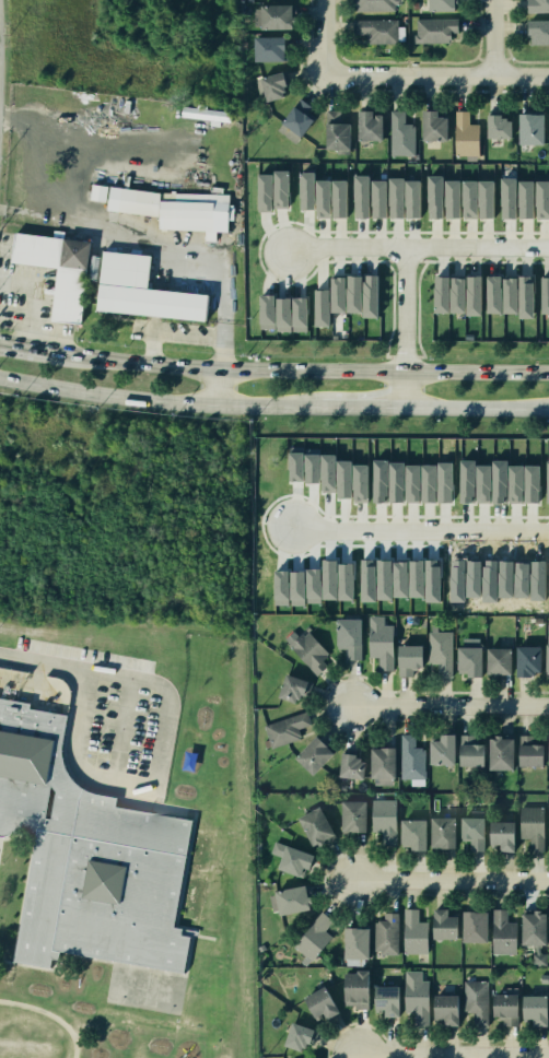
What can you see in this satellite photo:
building: (440, 3)
building: (373, 4)
building: (414, 4)
building: (535, 5)
building: (277, 14)
building: (435, 28)
building: (376, 30)
building: (536, 31)
road: (492, 37)
building: (242, 43)
building: (269, 48)
road: (521, 75)
road: (367, 78)
building: (271, 85)
building: (205, 115)
building: (295, 120)
building: (369, 126)
building: (432, 126)
building: (497, 126)
building: (529, 128)
building: (335, 131)
building: (465, 133)
building: (400, 134)
building: (279, 188)
building: (306, 190)
building: (264, 192)
building: (360, 196)
building: (395, 197)
building: (434, 197)
building: (322, 198)
building: (338, 198)
building: (377, 198)
building: (411, 198)
building: (507, 198)
building: (453, 199)
building: (478, 199)
building: (525, 199)
building: (542, 199)
building: (165, 209)
road: (37, 211)
road: (78, 218)
road: (417, 250)
building: (96, 280)
building: (441, 293)
building: (352, 294)
building: (456, 294)
building: (492, 294)
building: (509, 294)
building: (337, 295)
building: (472, 295)
building: (545, 295)
building: (369, 296)
building: (524, 296)
road: (34, 298)
road: (220, 304)
building: (319, 307)
building: (266, 313)
building: (281, 315)
building: (297, 315)
road: (406, 328)
road: (186, 337)
road: (8, 342)
road: (33, 345)
road: (299, 371)
road: (214, 386)
road: (159, 399)
road: (363, 405)
road: (478, 407)
building: (312, 466)
building: (296, 467)
building: (328, 473)
building: (343, 479)
building: (467, 481)
building: (499, 481)
building: (548, 481)
building: (360, 483)
building: (483, 483)
building: (524, 483)
road: (418, 527)
building: (347, 638)
building: (378, 642)
building: (308, 651)
building: (437, 653)
building: (544, 653)
building: (524, 658)
building: (405, 659)
building: (465, 660)
building: (493, 660)
road: (89, 667)
building: (288, 687)
road: (452, 703)
building: (284, 727)
building: (548, 749)
building: (437, 750)
building: (525, 752)
building: (467, 753)
building: (497, 753)
building: (309, 754)
building: (184, 757)
building: (409, 760)
building: (378, 763)
building: (347, 764)
building: (349, 818)
building: (382, 820)
building: (532, 825)
building: (547, 825)
building: (313, 826)
building: (439, 833)
building: (410, 834)
building: (469, 834)
building: (499, 836)
building: (289, 858)
building: (92, 860)
road: (452, 880)
building: (287, 900)
building: (548, 924)
building: (439, 925)
building: (471, 927)
building: (530, 929)
building: (410, 933)
building: (501, 933)
building: (384, 936)
building: (312, 938)
building: (353, 944)
building: (352, 990)
building: (382, 1000)
building: (413, 1000)
building: (501, 1000)
building: (471, 1002)
building: (316, 1003)
building: (442, 1012)
building: (530, 1012)
building: (294, 1034)
road: (453, 1055)
building: (303, 1057)

